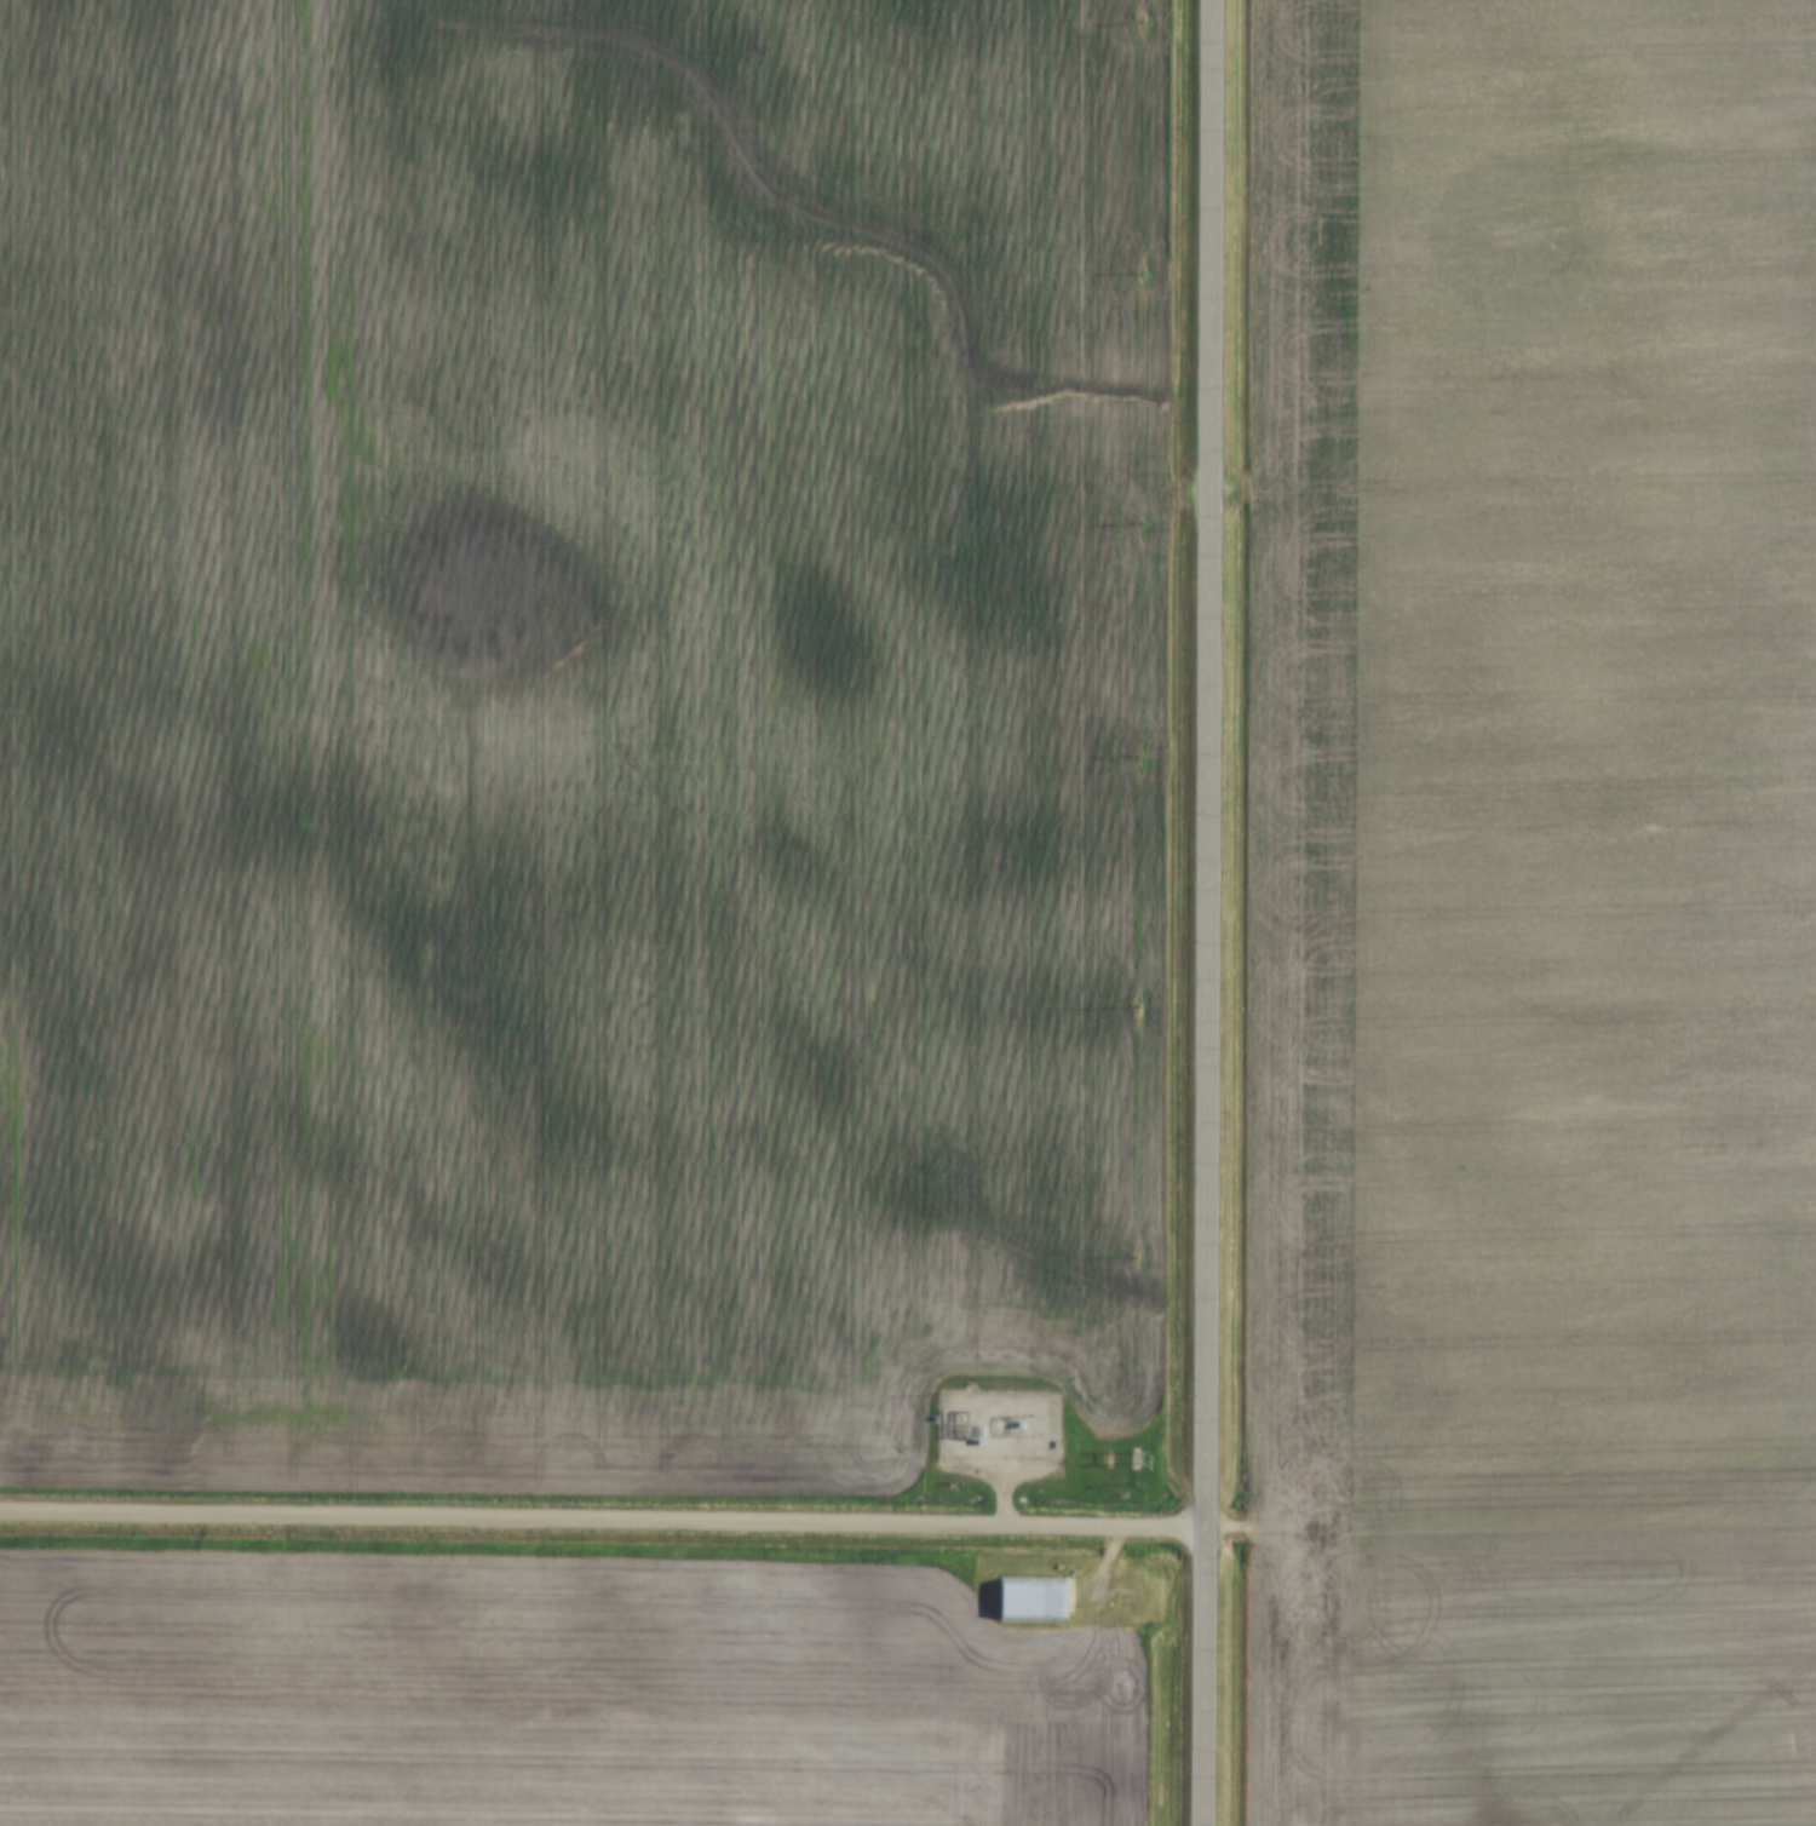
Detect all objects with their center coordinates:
road: (1211, 912)
building: (971, 1408)
power substation: (998, 1423)
power tower: (1138, 1434)
road: (605, 1520)
building: (1029, 1600)

